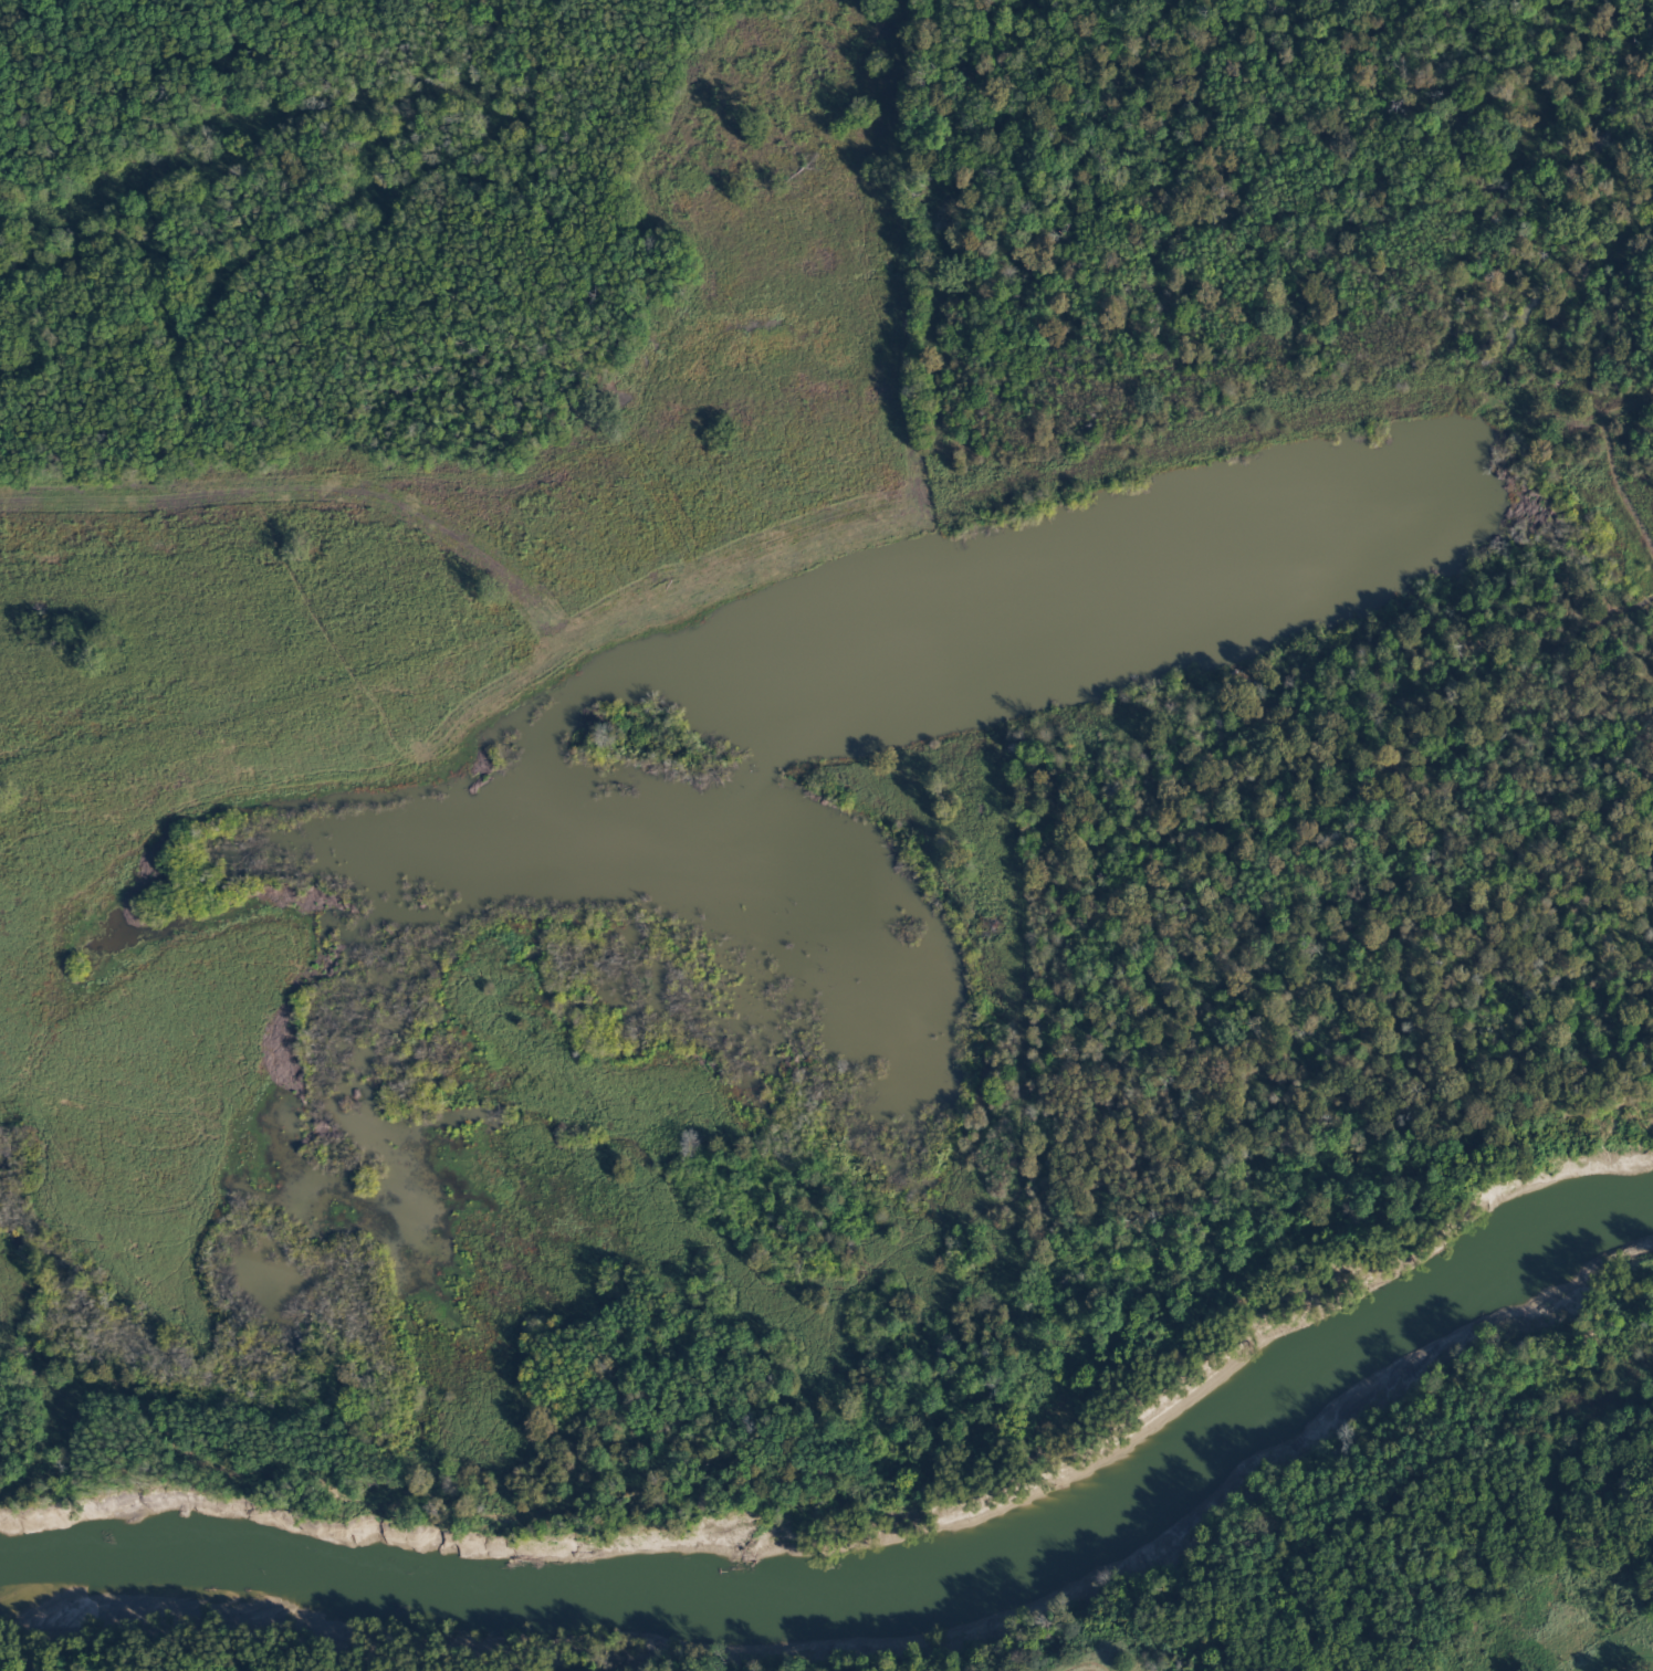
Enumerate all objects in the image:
river: (870, 1569)

